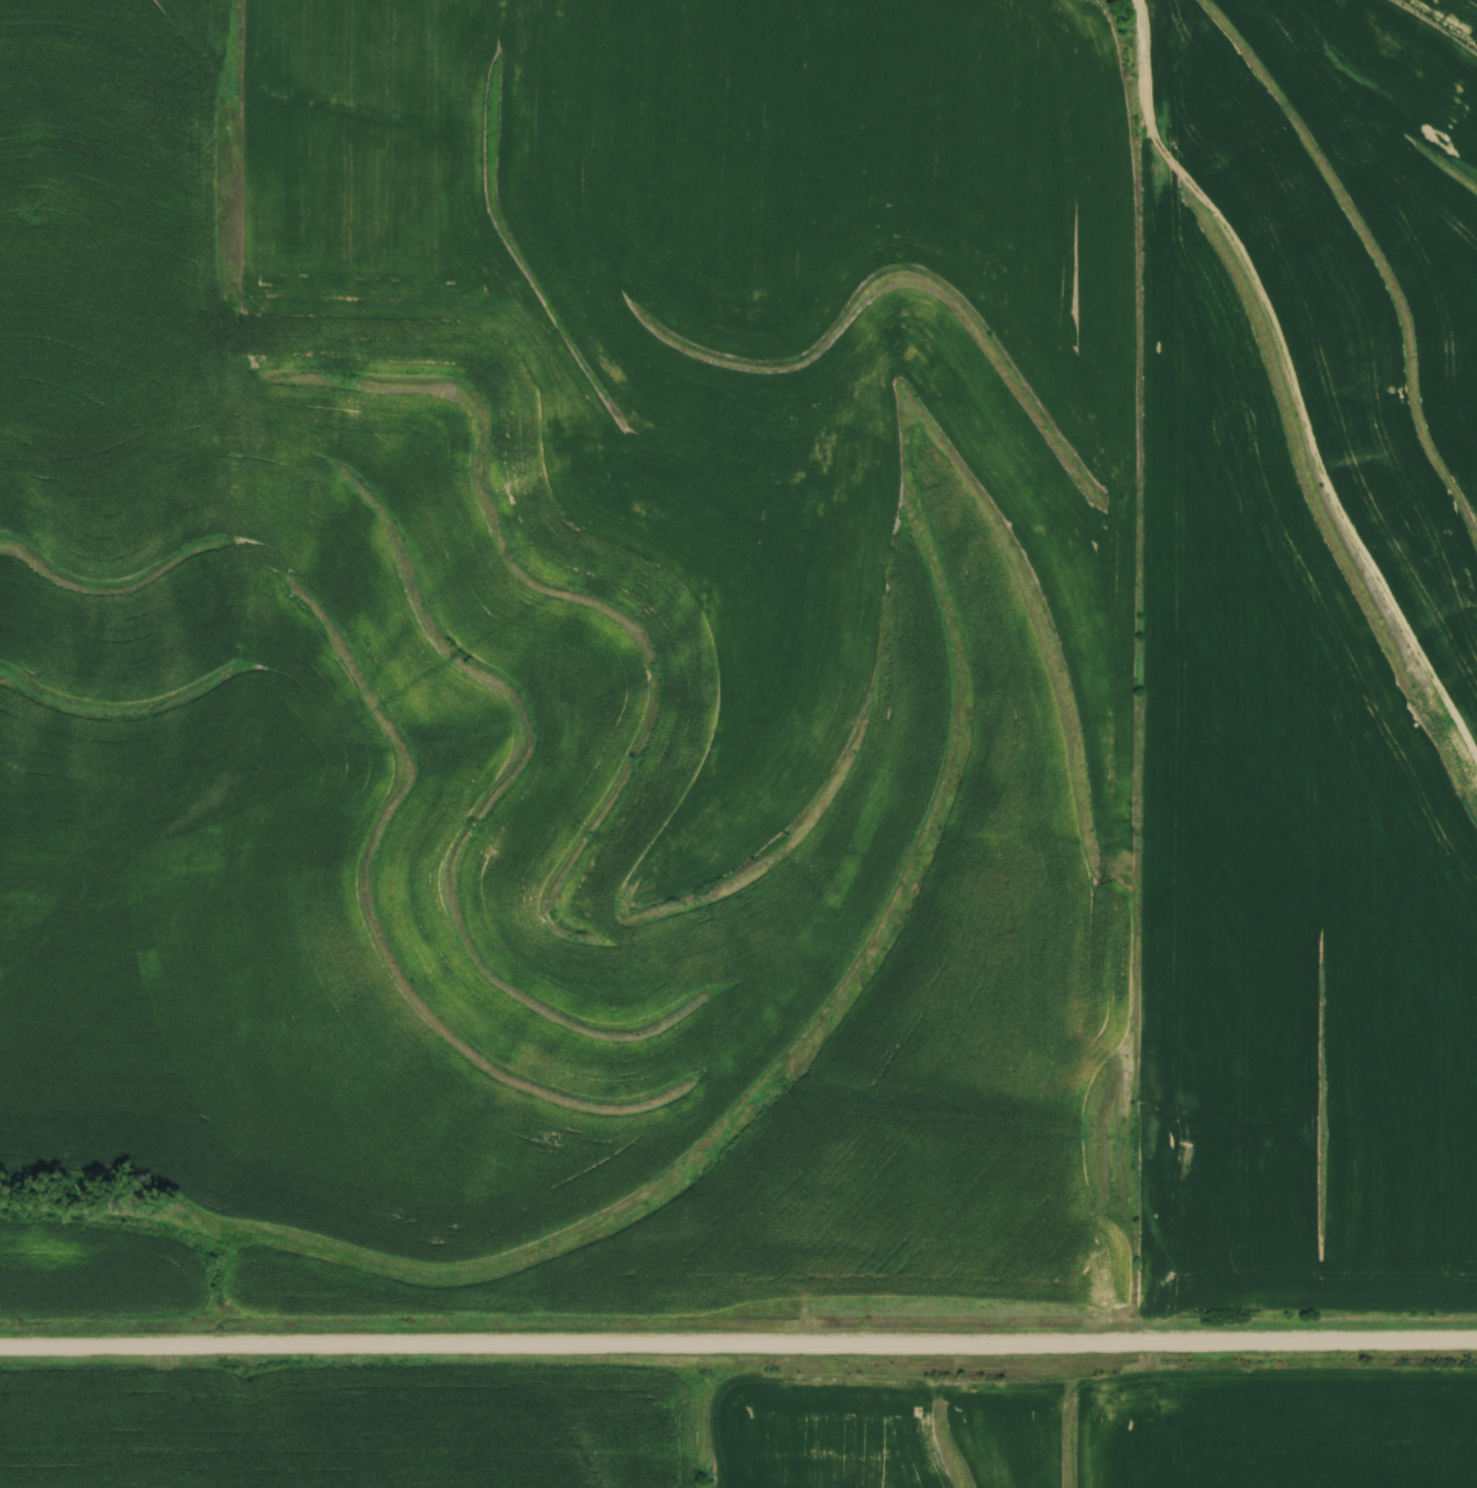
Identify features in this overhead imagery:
road: (738, 1345)

